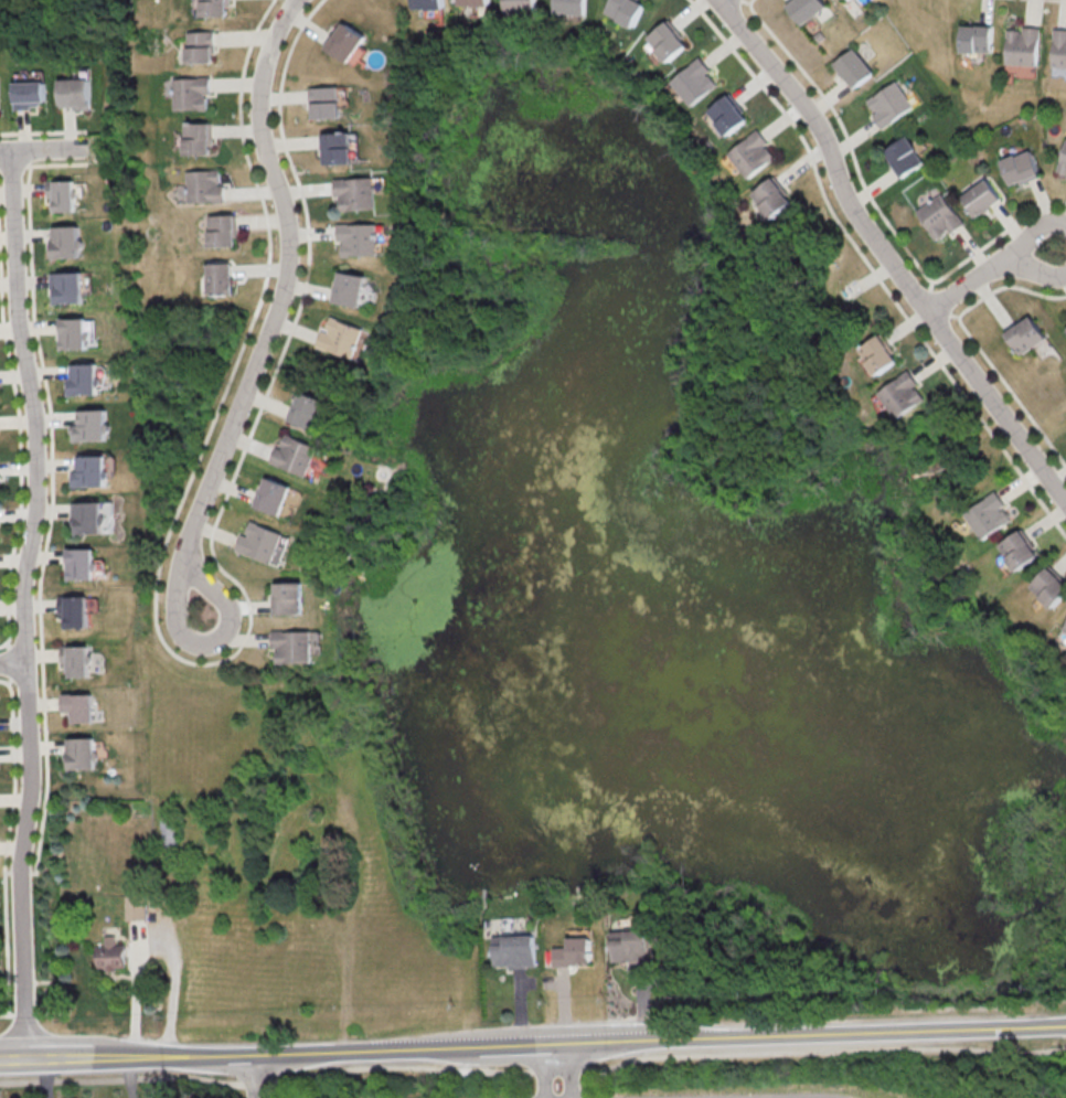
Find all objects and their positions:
building: (472, 2)
building: (427, 4)
building: (519, 6)
building: (571, 7)
building: (212, 8)
building: (804, 9)
building: (626, 10)
building: (977, 38)
building: (345, 41)
building: (668, 41)
building: (1023, 45)
building: (199, 46)
building: (1059, 47)
building: (851, 67)
building: (694, 82)
building: (74, 93)
building: (190, 93)
building: (28, 94)
building: (326, 102)
building: (886, 103)
building: (727, 114)
road: (42, 131)
building: (196, 138)
building: (337, 148)
road: (41, 150)
building: (751, 153)
building: (903, 156)
building: (1063, 159)
road: (13, 164)
building: (1020, 167)
building: (203, 185)
building: (354, 192)
building: (60, 194)
building: (980, 198)
building: (768, 199)
building: (939, 216)
building: (221, 230)
building: (356, 238)
building: (62, 242)
road: (891, 252)
road: (992, 270)
building: (216, 279)
road: (291, 279)
building: (64, 287)
building: (349, 288)
building: (1065, 328)
building: (71, 333)
building: (1022, 334)
building: (339, 337)
building: (876, 354)
building: (82, 379)
building: (899, 394)
building: (305, 409)
building: (89, 425)
building: (294, 455)
building: (90, 471)
road: (53, 489)
road: (21, 490)
building: (271, 495)
building: (89, 516)
building: (983, 516)
building: (259, 541)
building: (1017, 550)
building: (81, 563)
building: (1048, 586)
building: (288, 597)
road: (22, 604)
building: (75, 611)
building: (1063, 635)
road: (209, 642)
building: (292, 646)
road: (12, 661)
building: (77, 661)
road: (12, 665)
building: (79, 706)
building: (81, 753)
road: (4, 843)
road: (19, 872)
building: (136, 907)
road: (151, 944)
building: (629, 945)
building: (513, 950)
building: (574, 951)
building: (110, 953)
road: (615, 1038)
road: (147, 1055)
road: (64, 1058)
road: (572, 1068)
road: (544, 1069)
road: (249, 1075)

